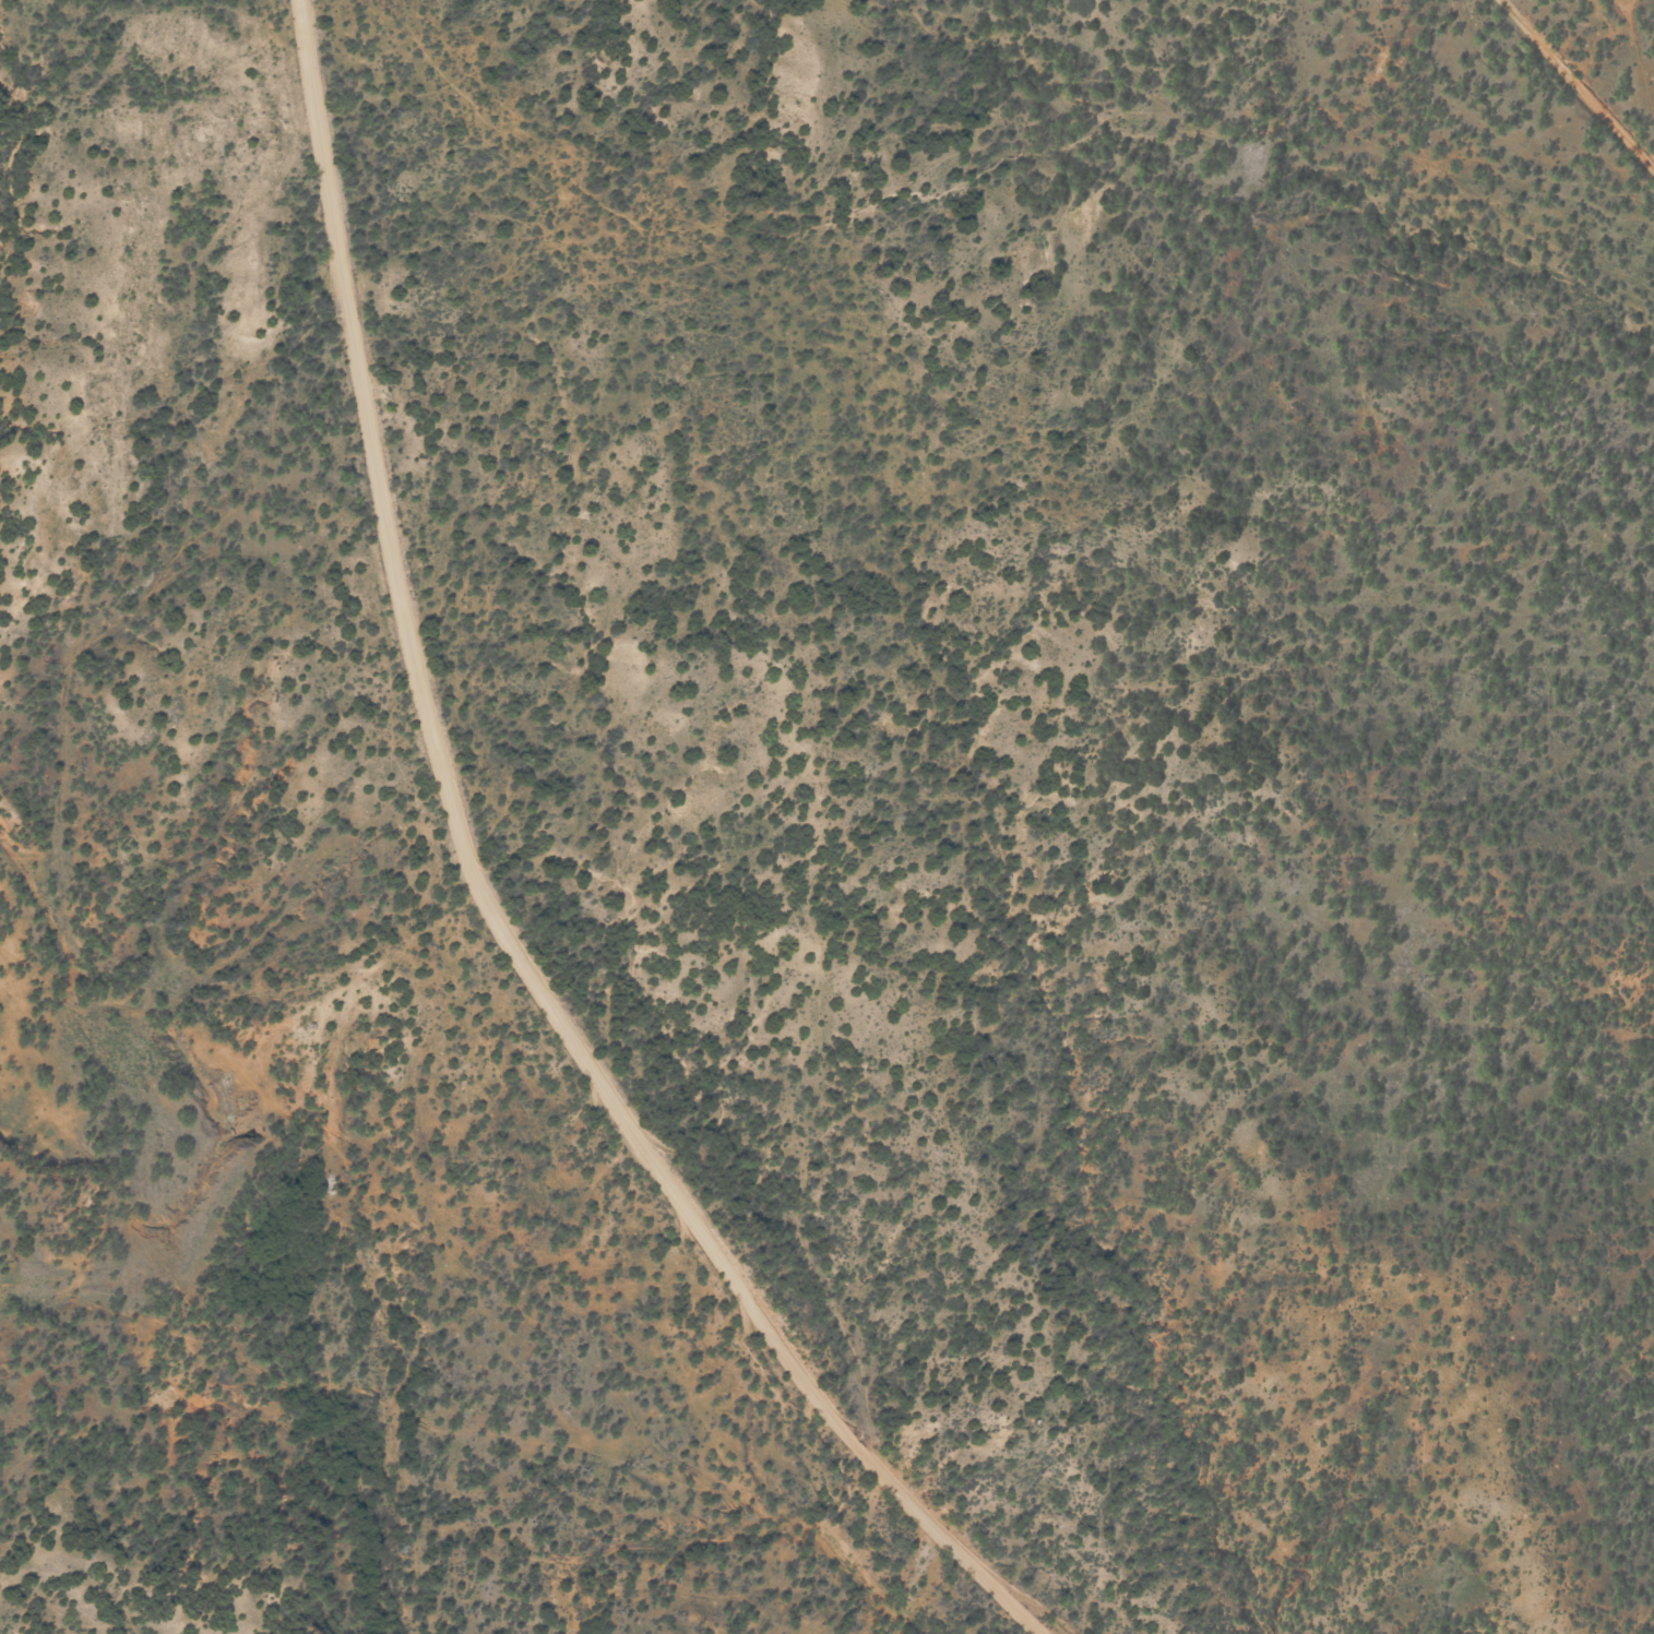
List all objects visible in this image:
road: (1566, 95)
road: (495, 901)

